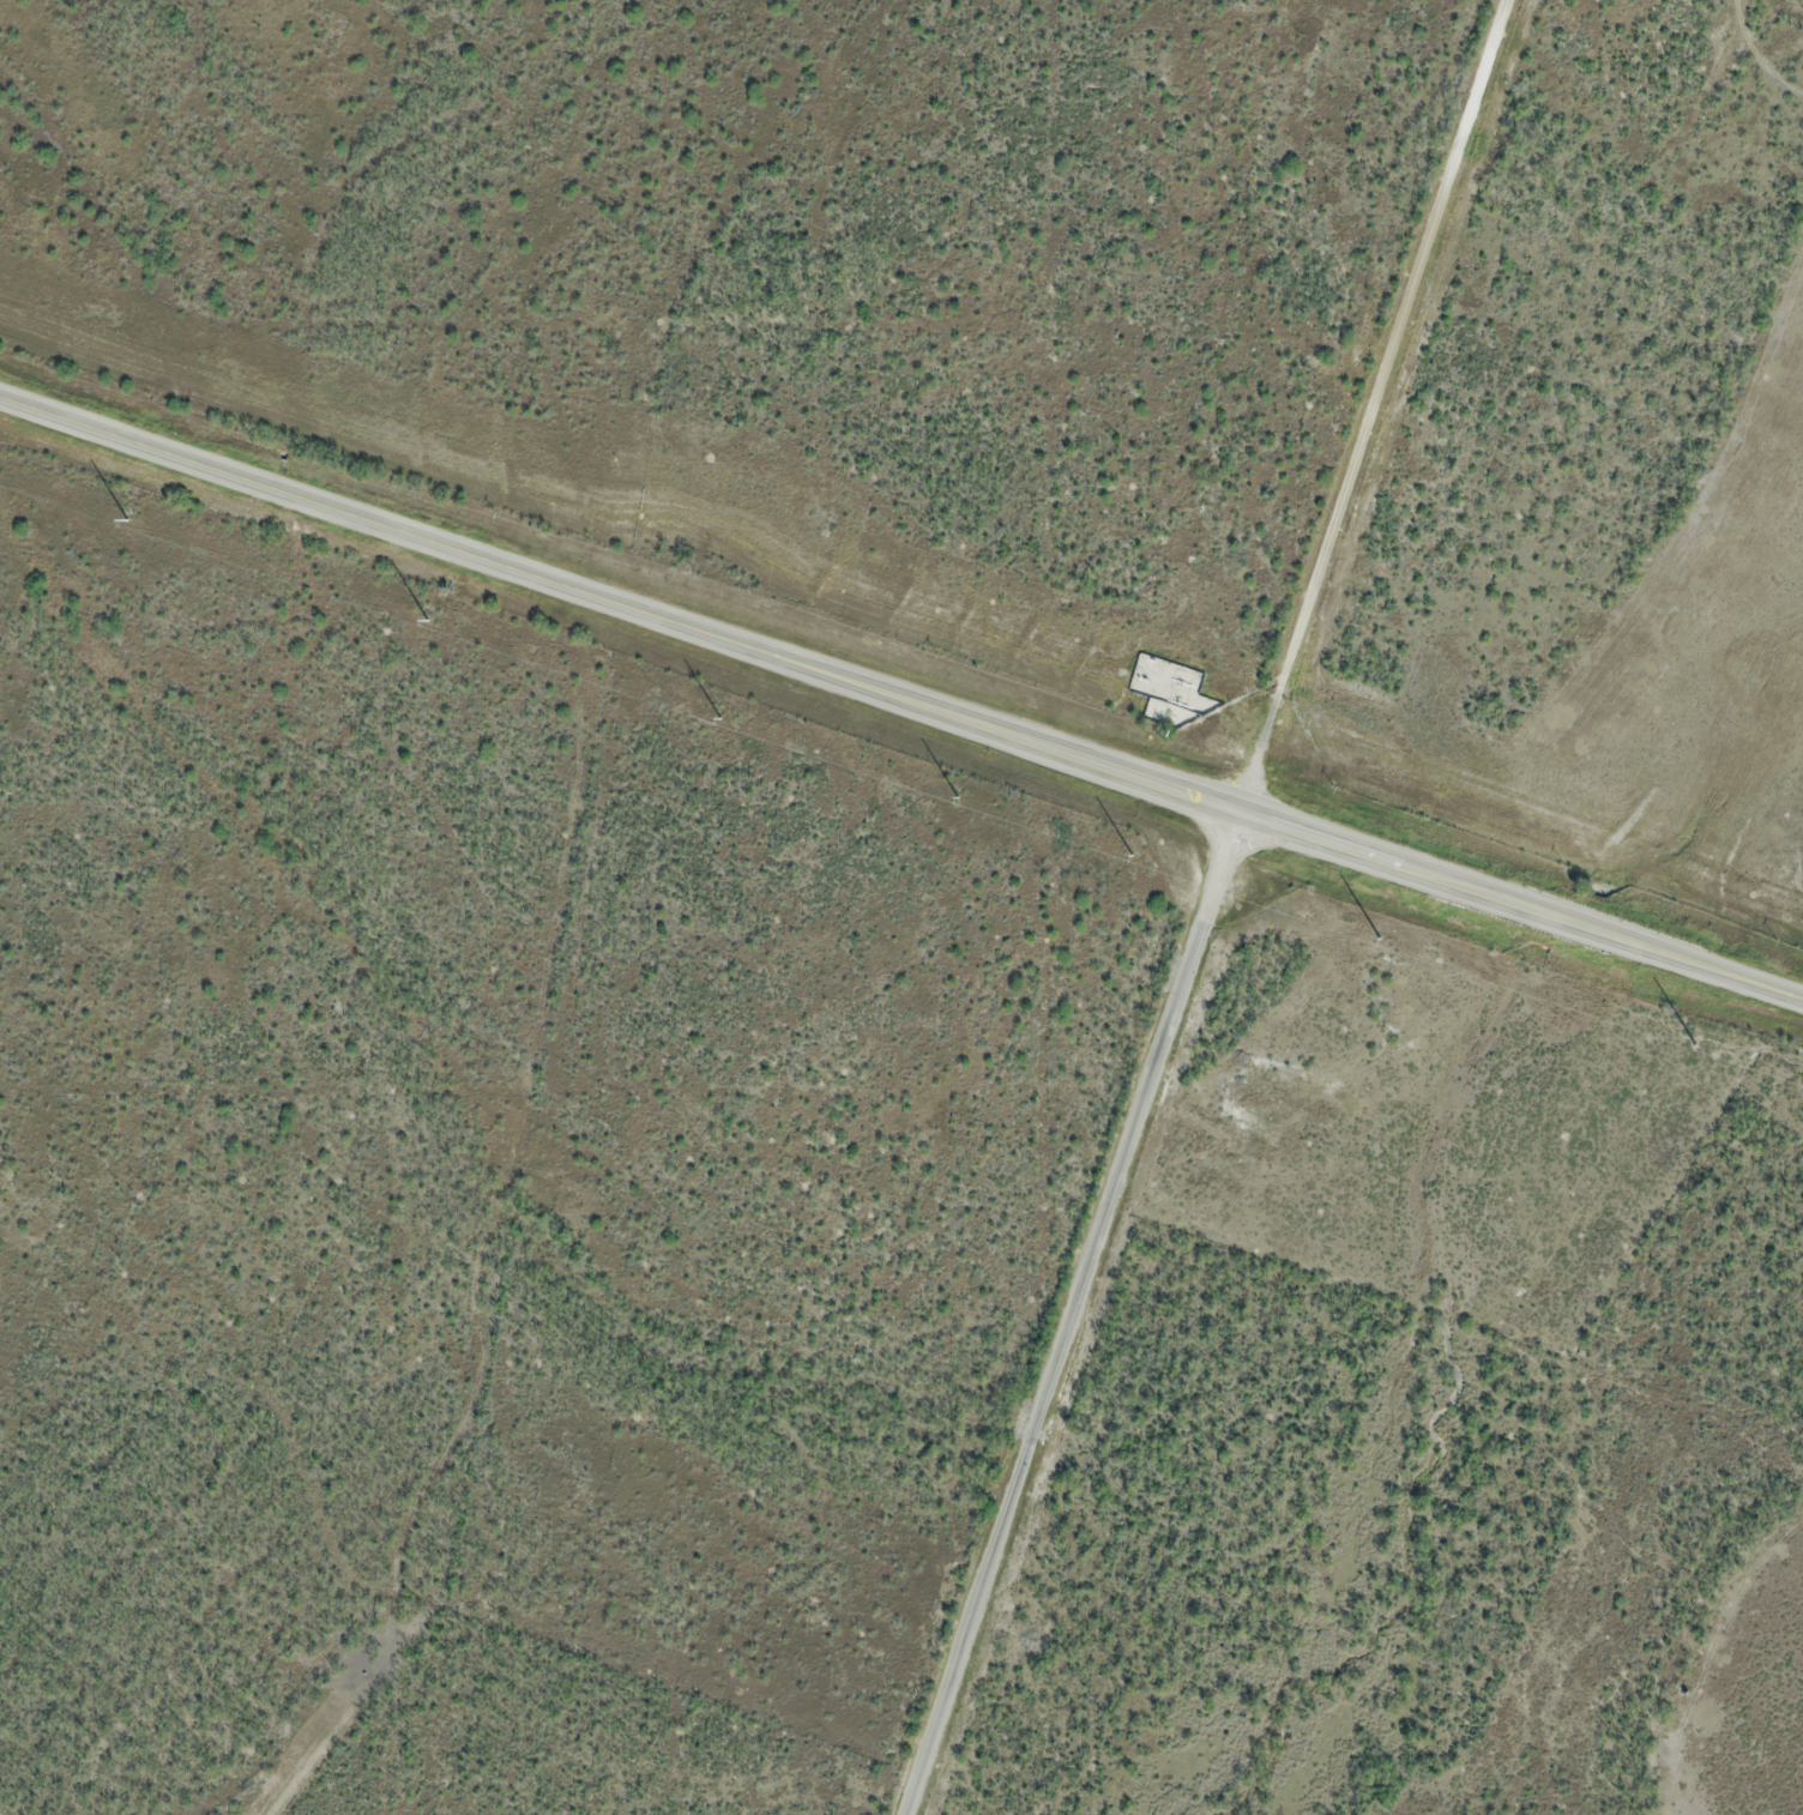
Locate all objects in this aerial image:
road: (1371, 408)
power tower: (128, 520)
power tower: (428, 619)
road: (900, 700)
power tower: (722, 718)
power tower: (958, 797)
power tower: (1132, 852)
power tower: (1381, 939)
power tower: (1696, 1044)
road: (1067, 1315)

